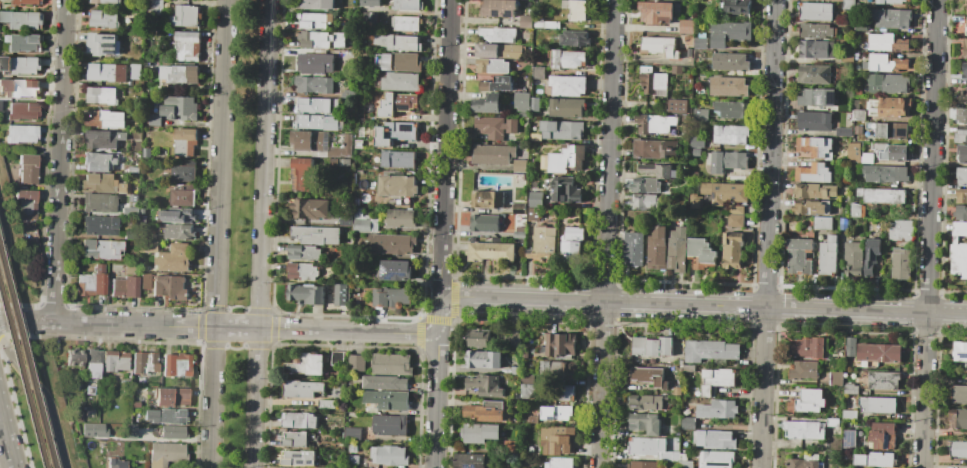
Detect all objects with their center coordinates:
building: (736, 1)
building: (891, 1)
building: (24, 2)
building: (104, 2)
building: (369, 3)
building: (318, 4)
building: (408, 4)
building: (850, 4)
building: (723, 5)
building: (153, 6)
building: (499, 8)
building: (966, 8)
building: (575, 9)
building: (738, 9)
building: (817, 11)
building: (656, 13)
building: (185, 16)
building: (373, 17)
building: (893, 18)
building: (23, 19)
building: (104, 19)
building: (314, 19)
building: (526, 22)
building: (407, 23)
building: (552, 24)
building: (862, 25)
building: (686, 26)
building: (734, 30)
building: (818, 30)
building: (497, 34)
building: (703, 35)
building: (575, 38)
building: (323, 40)
building: (24, 41)
building: (720, 41)
building: (160, 42)
building: (398, 42)
building: (702, 42)
building: (890, 42)
building: (103, 44)
building: (188, 45)
building: (660, 45)
building: (966, 48)
building: (817, 49)
building: (500, 51)
building: (690, 52)
building: (163, 58)
building: (341, 58)
building: (847, 58)
building: (567, 59)
building: (401, 61)
building: (314, 62)
building: (732, 62)
building: (887, 63)
building: (25, 66)
building: (493, 67)
building: (646, 69)
building: (135, 71)
building: (108, 72)
building: (538, 72)
building: (82, 73)
building: (816, 73)
building: (965, 73)
building: (179, 74)
building: (695, 76)
building: (401, 82)
building: (890, 83)
building: (315, 84)
building: (655, 84)
building: (497, 85)
building: (568, 85)
building: (729, 86)
building: (24, 89)
building: (348, 94)
building: (101, 96)
building: (964, 96)
building: (817, 97)
building: (399, 102)
building: (522, 102)
building: (0, 103)
building: (487, 104)
building: (536, 104)
building: (316, 105)
building: (867, 105)
building: (677, 106)
building: (566, 107)
building: (892, 107)
building: (732, 109)
building: (175, 110)
building: (24, 111)
building: (369, 111)
building: (701, 112)
building: (859, 115)
building: (962, 115)
building: (107, 119)
building: (814, 121)
building: (317, 122)
building: (655, 123)
building: (490, 127)
building: (563, 130)
building: (858, 130)
building: (842, 131)
building: (892, 131)
building: (395, 132)
building: (23, 133)
building: (731, 135)
building: (536, 136)
building: (961, 136)
building: (103, 139)
building: (310, 140)
building: (698, 140)
building: (185, 142)
building: (358, 144)
building: (816, 146)
road: (444, 148)
building: (654, 148)
building: (854, 152)
building: (899, 152)
building: (493, 154)
building: (962, 154)
building: (398, 158)
building: (867, 158)
road: (59, 161)
building: (99, 161)
building: (567, 161)
building: (727, 161)
building: (340, 162)
building: (520, 166)
building: (28, 168)
building: (135, 170)
building: (657, 170)
building: (183, 173)
building: (813, 173)
building: (301, 174)
building: (886, 174)
building: (961, 177)
building: (99, 183)
building: (397, 186)
building: (646, 186)
building: (123, 188)
building: (566, 190)
building: (816, 191)
building: (726, 192)
building: (882, 195)
building: (182, 196)
building: (961, 196)
building: (536, 199)
building: (486, 200)
building: (646, 201)
building: (27, 203)
building: (99, 203)
building: (133, 203)
building: (695, 203)
building: (813, 207)
building: (310, 208)
building: (518, 208)
building: (736, 209)
building: (855, 210)
building: (132, 211)
building: (961, 212)
building: (534, 214)
building: (176, 215)
building: (632, 216)
building: (399, 218)
building: (345, 219)
building: (735, 220)
building: (484, 222)
building: (823, 222)
building: (364, 223)
building: (844, 224)
building: (101, 225)
building: (520, 229)
building: (901, 229)
building: (180, 232)
building: (575, 233)
road: (605, 233)
road: (767, 233)
road: (929, 233)
road: (218, 234)
road: (259, 234)
building: (317, 234)
building: (519, 235)
road: (6, 237)
building: (393, 244)
building: (543, 245)
building: (149, 246)
building: (572, 247)
building: (633, 248)
building: (657, 248)
building: (677, 248)
building: (101, 249)
building: (958, 249)
building: (702, 250)
building: (732, 250)
building: (491, 251)
building: (303, 252)
building: (871, 255)
building: (799, 256)
building: (828, 256)
building: (175, 258)
building: (853, 258)
building: (901, 263)
building: (396, 270)
building: (301, 271)
building: (91, 284)
building: (124, 286)
building: (169, 286)
building: (307, 294)
building: (340, 294)
building: (391, 297)
road: (703, 304)
road: (236, 306)
road: (440, 315)
road: (199, 325)
road: (219, 327)
road: (272, 329)
building: (516, 337)
building: (478, 338)
building: (560, 344)
building: (651, 347)
building: (850, 347)
road: (234, 348)
building: (808, 348)
building: (711, 350)
building: (960, 351)
park: (31, 352)
building: (879, 352)
building: (525, 354)
building: (75, 358)
building: (339, 358)
building: (483, 358)
railway: (27, 360)
building: (643, 361)
building: (114, 362)
building: (356, 362)
building: (93, 363)
building: (144, 363)
building: (177, 364)
building: (307, 364)
building: (392, 364)
building: (516, 369)
building: (804, 369)
building: (560, 370)
railway: (23, 377)
building: (649, 377)
building: (528, 378)
building: (837, 378)
building: (716, 380)
building: (883, 380)
building: (384, 382)
building: (485, 385)
building: (302, 388)
building: (529, 391)
building: (560, 393)
road: (44, 394)
building: (959, 394)
building: (517, 396)
building: (172, 398)
building: (666, 398)
building: (388, 401)
road: (436, 401)
building: (808, 401)
building: (646, 402)
building: (327, 403)
building: (135, 404)
building: (879, 405)
building: (718, 410)
building: (486, 411)
building: (89, 413)
building: (556, 413)
building: (166, 416)
building: (961, 419)
building: (299, 420)
building: (832, 422)
building: (687, 423)
building: (646, 424)
building: (390, 425)
building: (804, 429)
building: (93, 430)
building: (127, 431)
building: (174, 432)
building: (479, 432)
building: (353, 433)
building: (883, 436)
building: (715, 438)
building: (294, 439)
building: (836, 439)
building: (849, 439)
road: (6, 440)
building: (557, 441)
building: (818, 445)
building: (530, 446)
building: (353, 448)
building: (957, 448)
building: (657, 451)
building: (166, 453)
building: (389, 455)
building: (298, 458)
building: (716, 459)
building: (353, 460)
building: (469, 460)
building: (875, 460)
building: (806, 462)
building: (116, 463)
building: (560, 463)
building: (642, 465)

